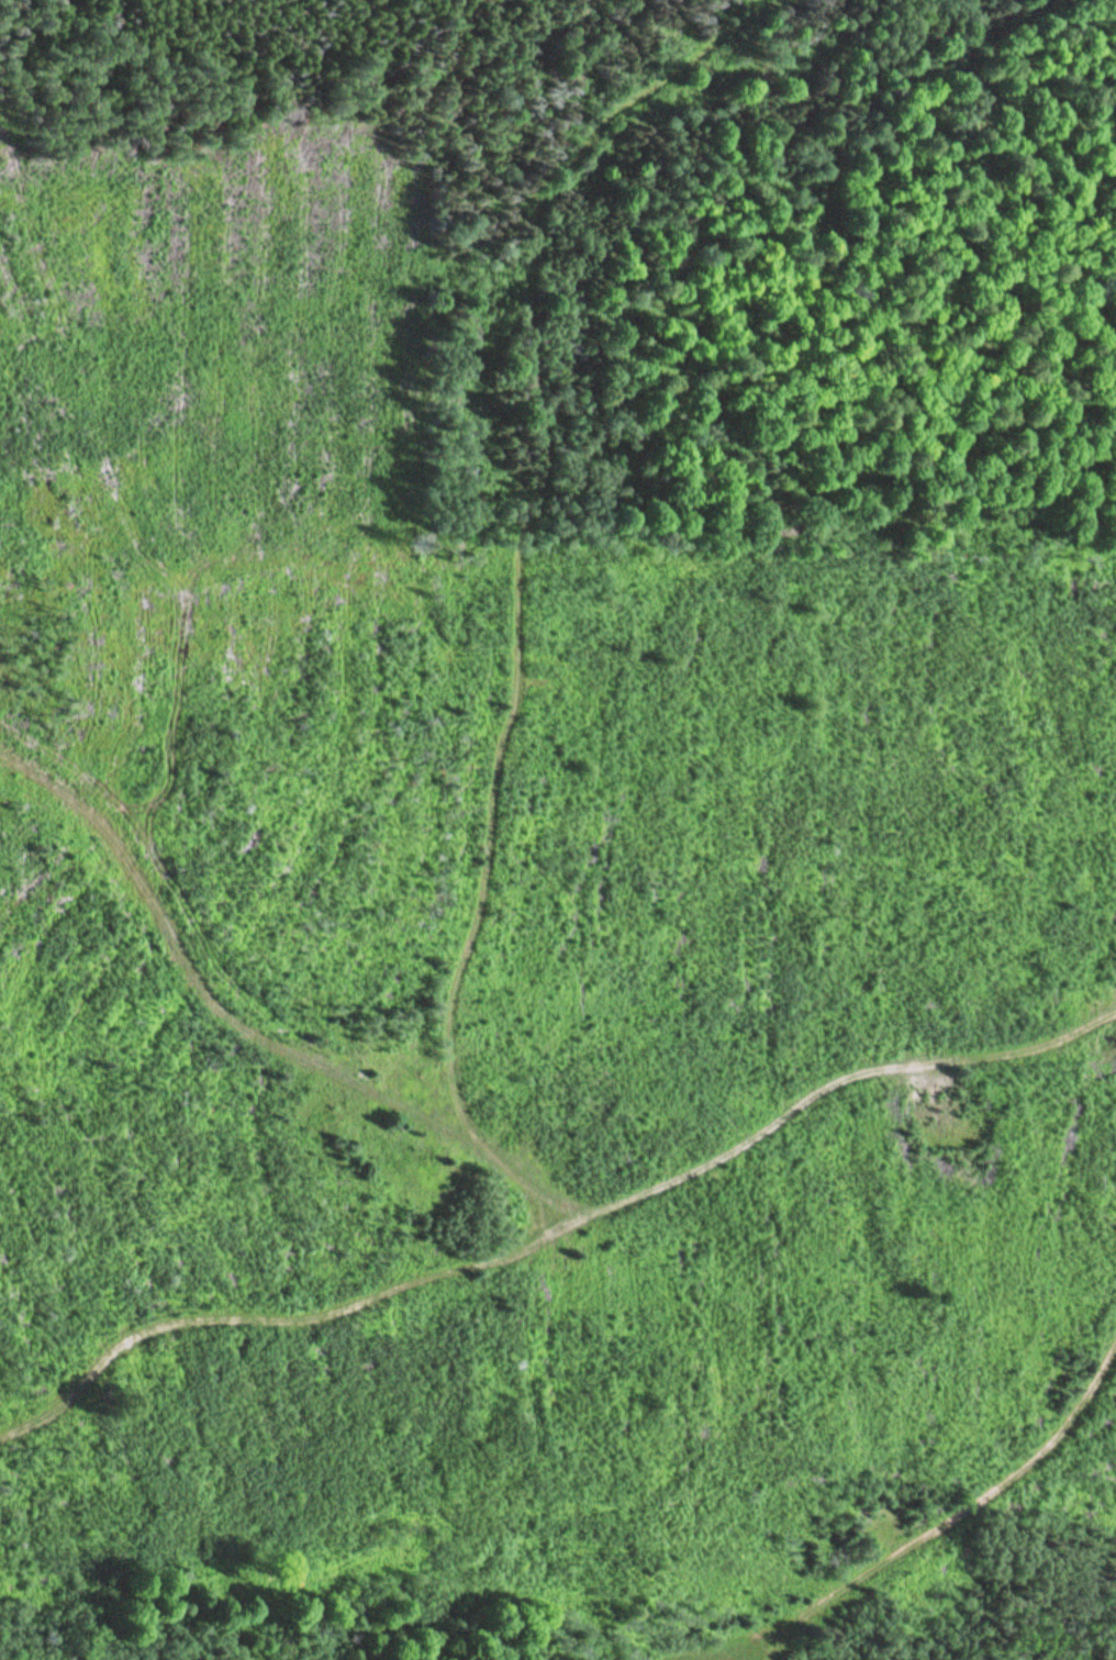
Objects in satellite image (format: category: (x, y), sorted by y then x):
road: (567, 1243)

